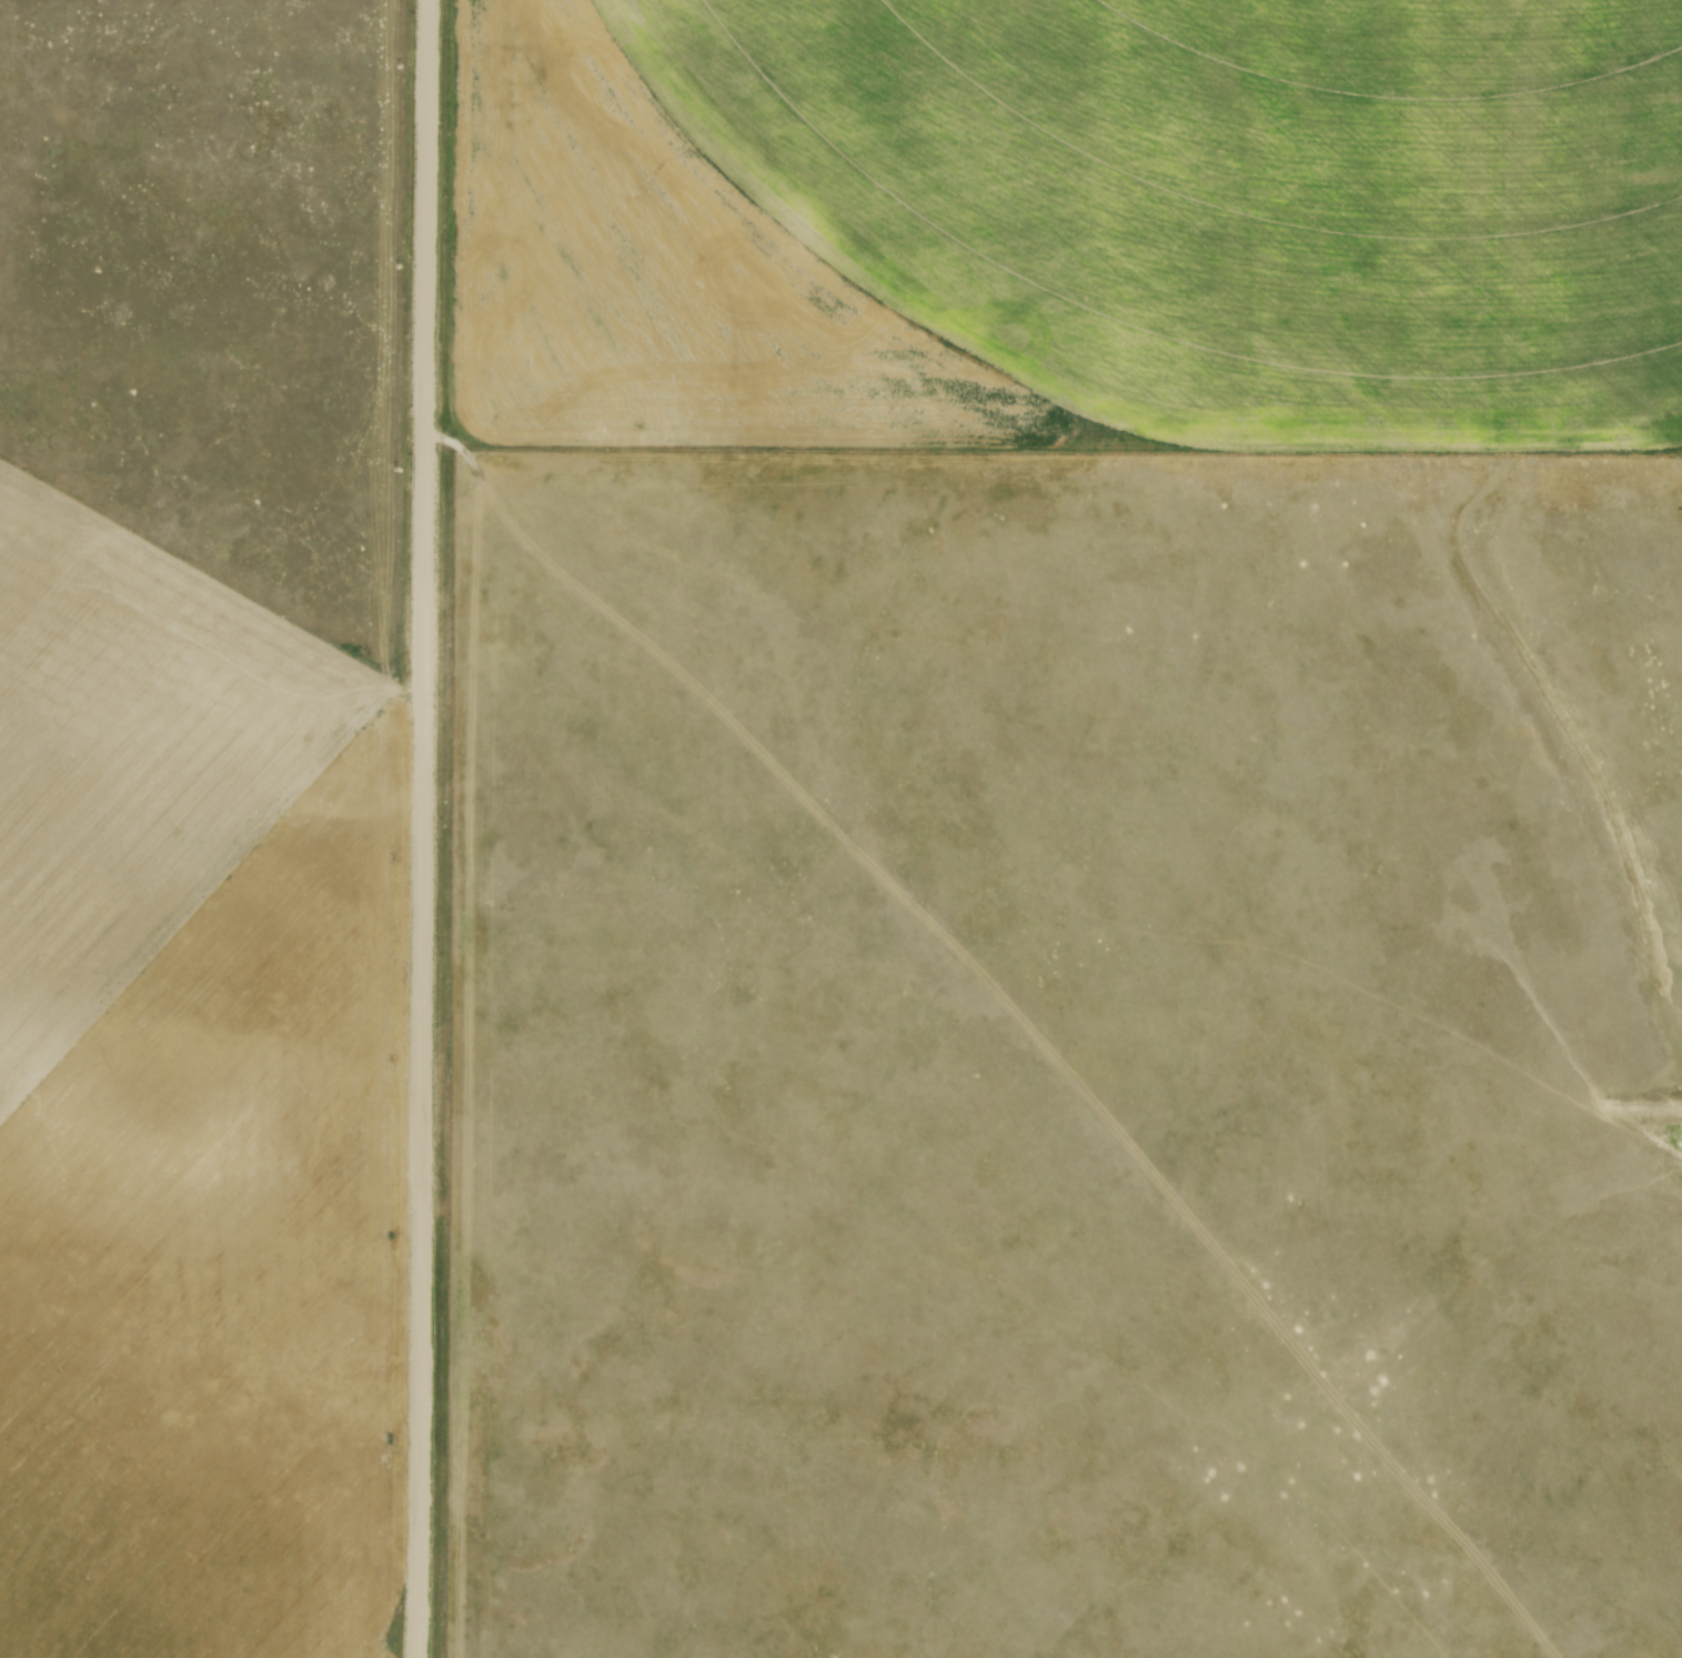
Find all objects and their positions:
crop: (1068, 224)
road: (426, 828)
crop: (189, 1108)

